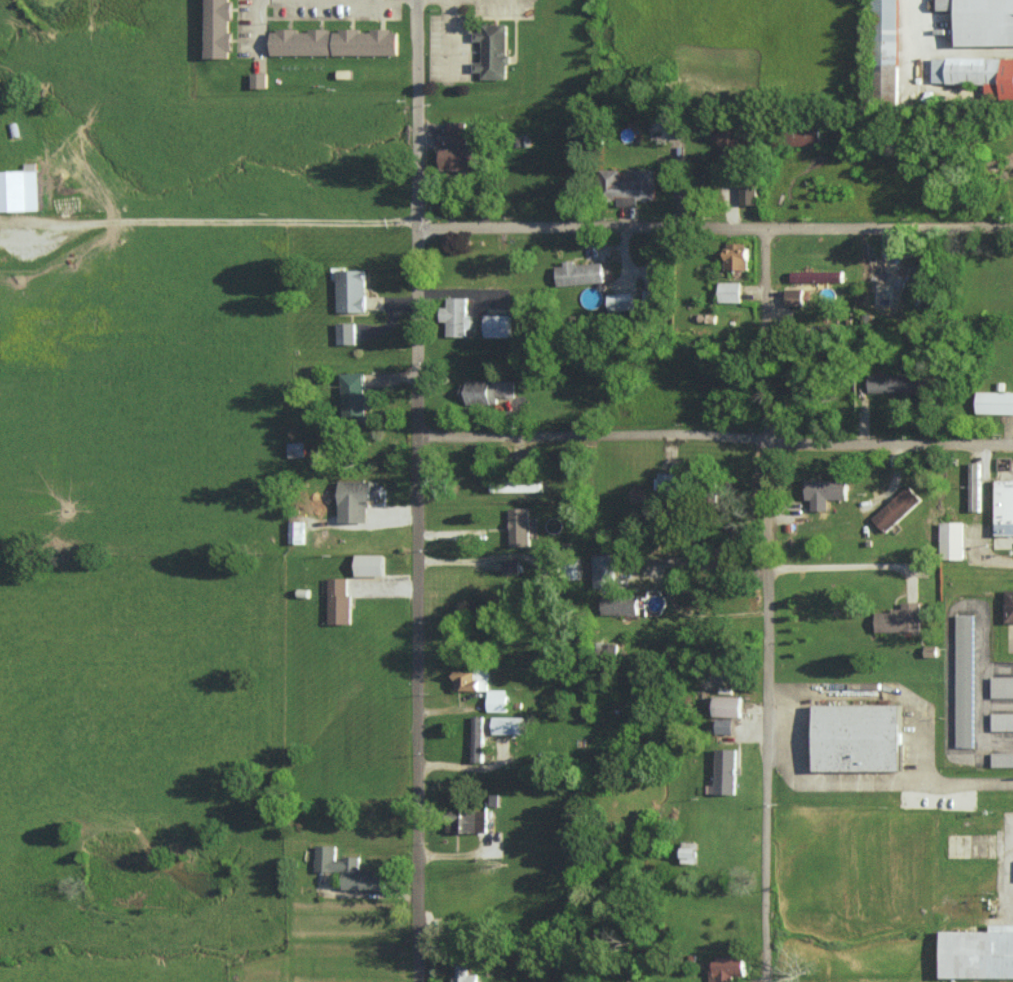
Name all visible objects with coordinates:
building: (981, 22)
road: (260, 25)
building: (216, 28)
building: (332, 41)
building: (492, 50)
building: (884, 52)
building: (976, 74)
building: (258, 79)
building: (728, 133)
building: (803, 134)
building: (456, 149)
building: (627, 186)
building: (19, 188)
building: (747, 190)
road: (713, 226)
building: (734, 255)
building: (578, 273)
building: (816, 275)
building: (350, 290)
building: (728, 291)
building: (882, 294)
building: (793, 296)
building: (620, 301)
building: (454, 316)
building: (706, 318)
building: (496, 325)
building: (345, 332)
building: (892, 382)
building: (485, 390)
building: (352, 396)
building: (994, 401)
road: (714, 436)
building: (295, 449)
parking lot: (1012, 469)
building: (664, 481)
building: (516, 485)
building: (974, 485)
building: (824, 489)
road: (416, 490)
building: (356, 499)
building: (896, 508)
building: (1005, 508)
building: (518, 526)
building: (296, 532)
building: (951, 540)
building: (368, 564)
building: (509, 566)
road: (847, 569)
building: (602, 570)
building: (337, 600)
building: (618, 603)
road: (767, 604)
building: (1009, 606)
building: (898, 618)
parking lot: (1010, 638)
building: (465, 680)
building: (964, 680)
building: (1001, 686)
building: (496, 700)
road: (798, 700)
building: (726, 706)
building: (1002, 721)
building: (507, 725)
building: (856, 737)
building: (477, 738)
building: (1001, 759)
building: (724, 771)
road: (967, 783)
parking lot: (1008, 817)
building: (466, 821)
building: (688, 852)
building: (348, 870)
building: (978, 954)
building: (722, 968)
building: (463, 975)

